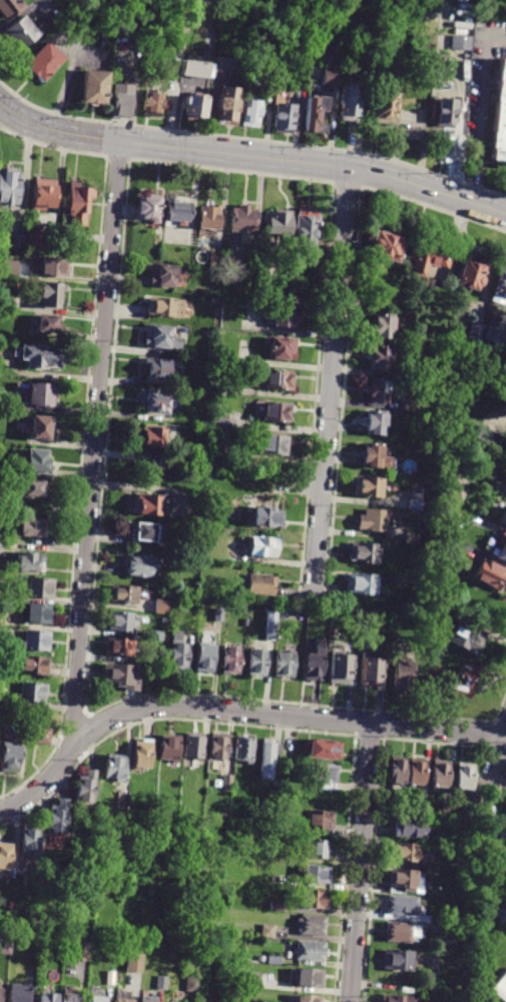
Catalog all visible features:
building: (399, 6)
building: (10, 8)
building: (123, 26)
building: (23, 33)
building: (458, 42)
building: (46, 62)
building: (224, 65)
building: (356, 65)
building: (364, 65)
building: (195, 69)
building: (330, 77)
building: (95, 87)
building: (122, 99)
building: (350, 103)
building: (152, 104)
building: (226, 105)
building: (196, 107)
building: (383, 107)
road: (479, 109)
building: (251, 113)
building: (316, 113)
building: (283, 114)
building: (442, 114)
building: (499, 116)
building: (459, 121)
road: (56, 132)
road: (119, 158)
road: (315, 164)
building: (9, 191)
building: (44, 194)
building: (79, 202)
building: (150, 209)
building: (179, 210)
building: (209, 216)
building: (243, 220)
building: (279, 220)
building: (65, 227)
building: (310, 233)
building: (17, 240)
building: (38, 242)
building: (386, 245)
building: (425, 257)
building: (216, 259)
building: (56, 266)
building: (10, 268)
building: (469, 273)
building: (164, 275)
building: (498, 288)
building: (51, 293)
building: (217, 300)
building: (378, 302)
building: (167, 307)
building: (285, 316)
building: (49, 323)
building: (383, 326)
building: (475, 334)
building: (244, 335)
building: (494, 335)
building: (162, 337)
building: (282, 348)
building: (43, 356)
building: (382, 357)
building: (157, 368)
building: (484, 376)
building: (280, 380)
road: (330, 385)
building: (222, 390)
building: (379, 390)
building: (41, 394)
building: (0, 401)
building: (156, 402)
building: (279, 412)
building: (220, 421)
building: (376, 421)
building: (42, 427)
road: (85, 434)
building: (488, 437)
building: (155, 439)
building: (274, 444)
road: (94, 448)
building: (218, 449)
building: (377, 457)
building: (40, 461)
building: (478, 466)
building: (369, 487)
building: (35, 489)
building: (455, 491)
building: (416, 502)
building: (152, 504)
building: (496, 508)
building: (446, 514)
building: (266, 517)
building: (503, 519)
building: (200, 520)
building: (375, 520)
building: (209, 521)
building: (35, 526)
building: (145, 532)
building: (412, 538)
building: (263, 547)
building: (500, 551)
building: (365, 553)
building: (31, 562)
building: (141, 566)
building: (489, 576)
building: (261, 584)
building: (363, 584)
building: (40, 588)
building: (124, 594)
building: (163, 607)
building: (284, 609)
building: (36, 613)
building: (220, 613)
building: (286, 617)
building: (122, 621)
building: (247, 623)
building: (271, 625)
building: (156, 636)
building: (466, 638)
building: (36, 640)
building: (120, 647)
building: (178, 652)
building: (206, 658)
building: (232, 661)
building: (259, 662)
building: (315, 662)
building: (284, 665)
building: (35, 666)
building: (342, 670)
building: (374, 670)
building: (405, 676)
building: (123, 677)
building: (460, 685)
building: (32, 695)
road: (233, 711)
building: (40, 736)
building: (194, 745)
building: (168, 746)
building: (218, 746)
building: (244, 748)
building: (288, 750)
building: (325, 750)
building: (143, 755)
building: (9, 757)
road: (496, 760)
building: (267, 761)
building: (115, 768)
building: (416, 772)
building: (398, 773)
building: (441, 774)
building: (325, 775)
building: (464, 777)
building: (227, 781)
building: (87, 788)
building: (122, 800)
building: (423, 810)
building: (446, 810)
building: (58, 818)
building: (320, 820)
building: (260, 823)
building: (284, 824)
building: (412, 829)
building: (497, 839)
building: (30, 840)
building: (319, 850)
building: (410, 854)
building: (5, 856)
road: (359, 863)
building: (37, 870)
building: (130, 875)
building: (315, 875)
building: (277, 879)
building: (406, 880)
building: (101, 890)
building: (313, 900)
building: (276, 906)
building: (404, 906)
building: (437, 921)
building: (311, 925)
building: (267, 931)
building: (403, 933)
building: (5, 947)
building: (163, 948)
building: (80, 951)
building: (310, 952)
building: (42, 953)
building: (273, 959)
building: (401, 962)
building: (134, 963)
building: (42, 967)
building: (310, 978)
building: (252, 980)
building: (161, 982)
building: (191, 985)
building: (501, 989)
building: (19, 993)
building: (70, 997)
building: (48, 998)
building: (95, 998)
building: (303, 998)
building: (147, 999)
building: (399, 999)
building: (122, 1000)

